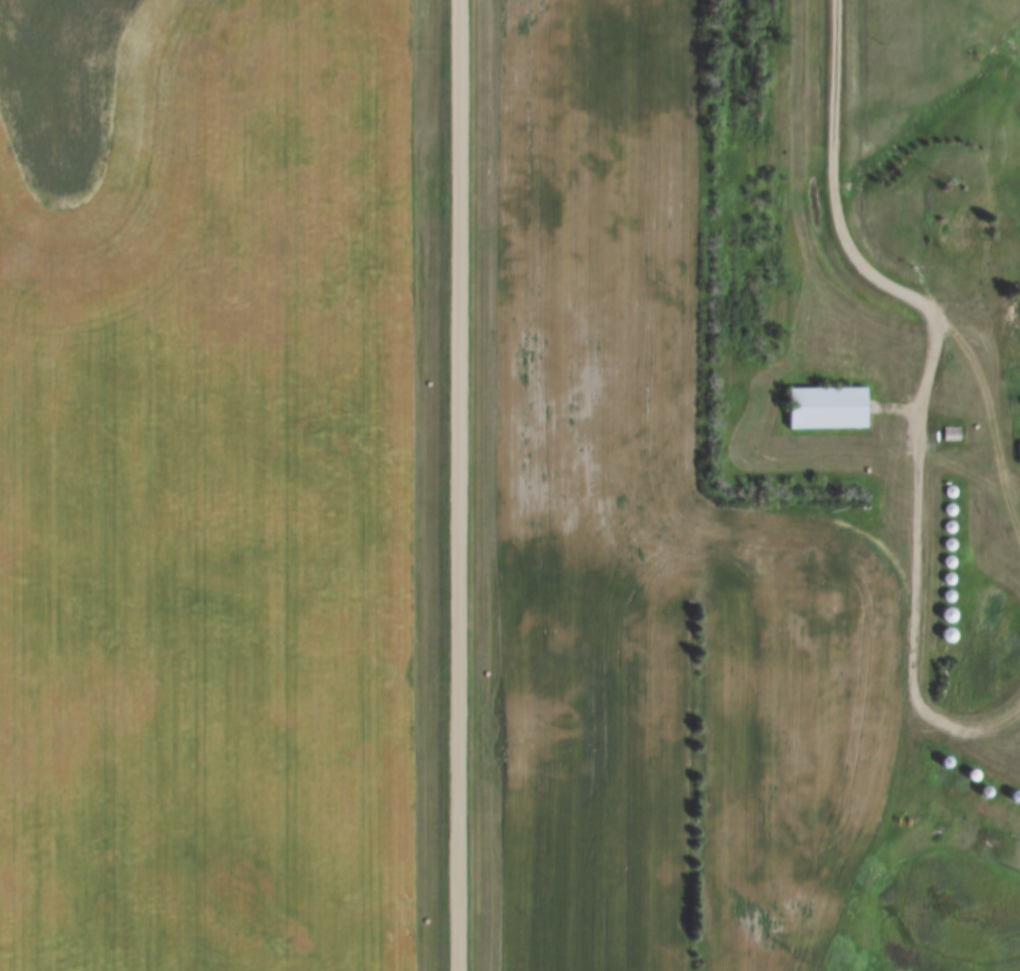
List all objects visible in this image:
building: (965, 232)
building: (1014, 305)
road: (930, 351)
building: (826, 408)
building: (951, 434)
building: (1018, 453)
road: (455, 485)
building: (1015, 796)

